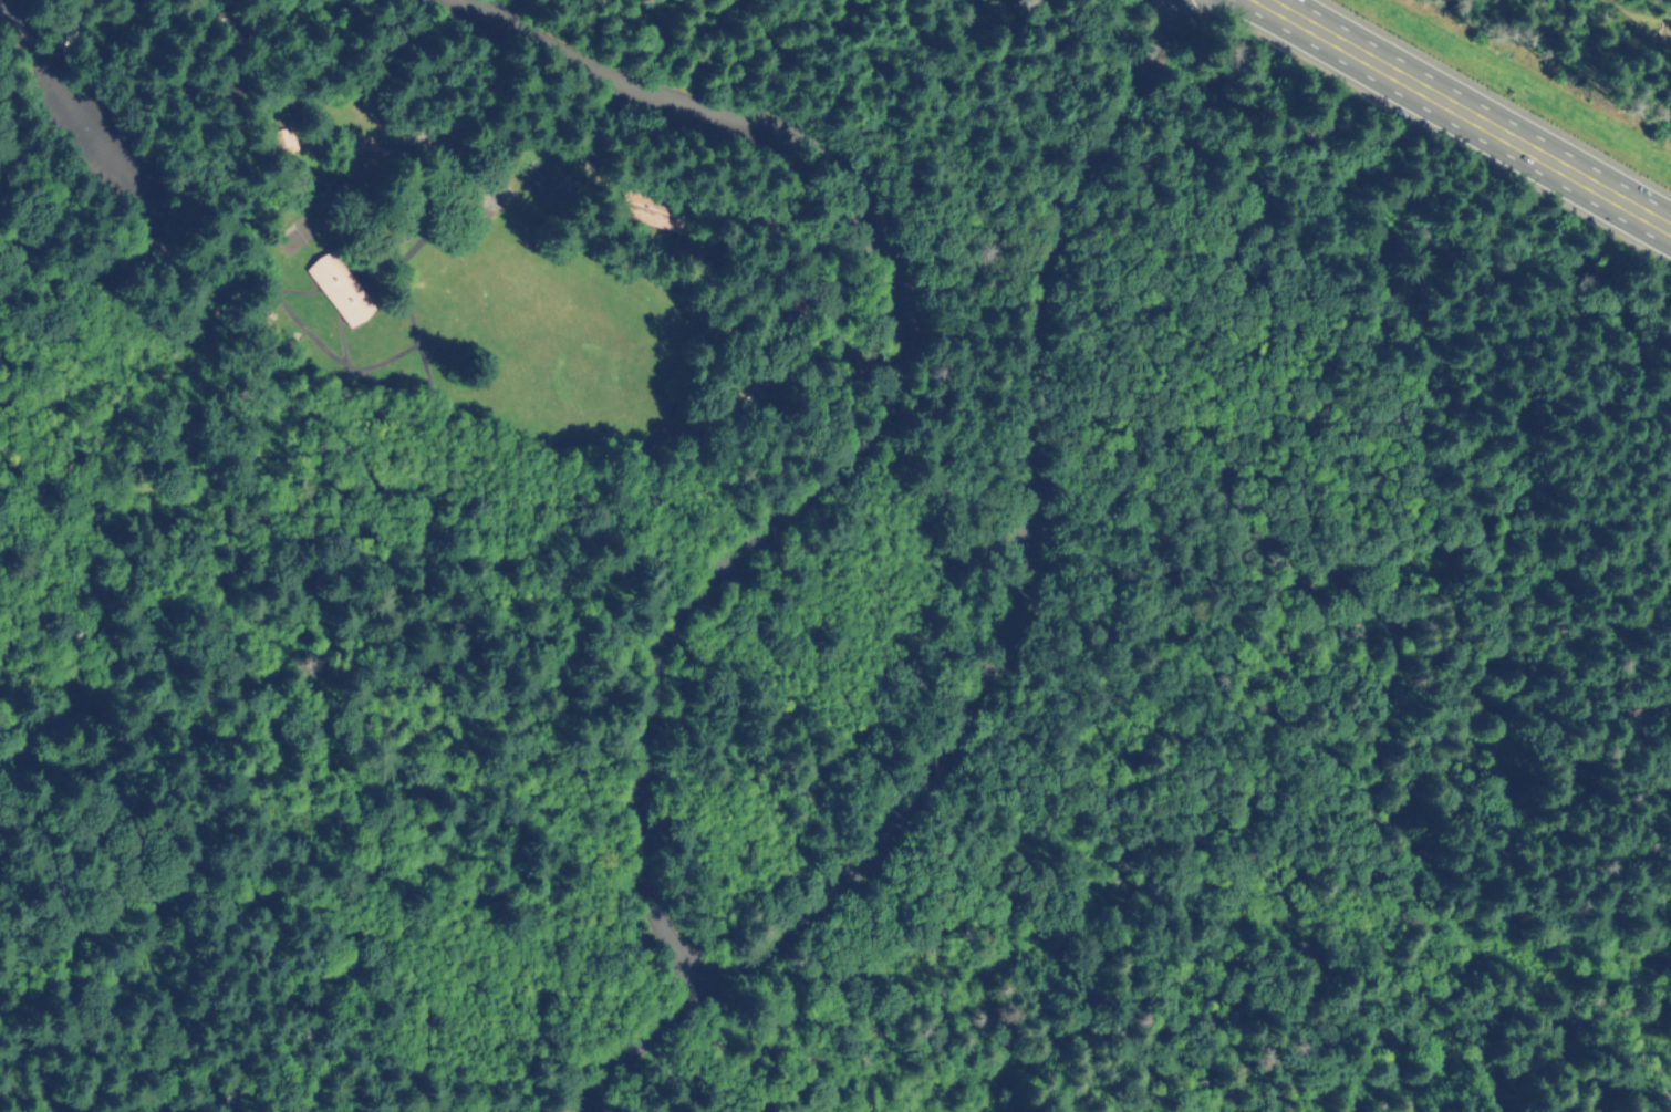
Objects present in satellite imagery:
road: (0, 0)
road: (1665, 35)
road: (1467, 113)
road: (142, 194)
building: (340, 288)
road: (438, 391)
road: (891, 414)
road: (1010, 630)

